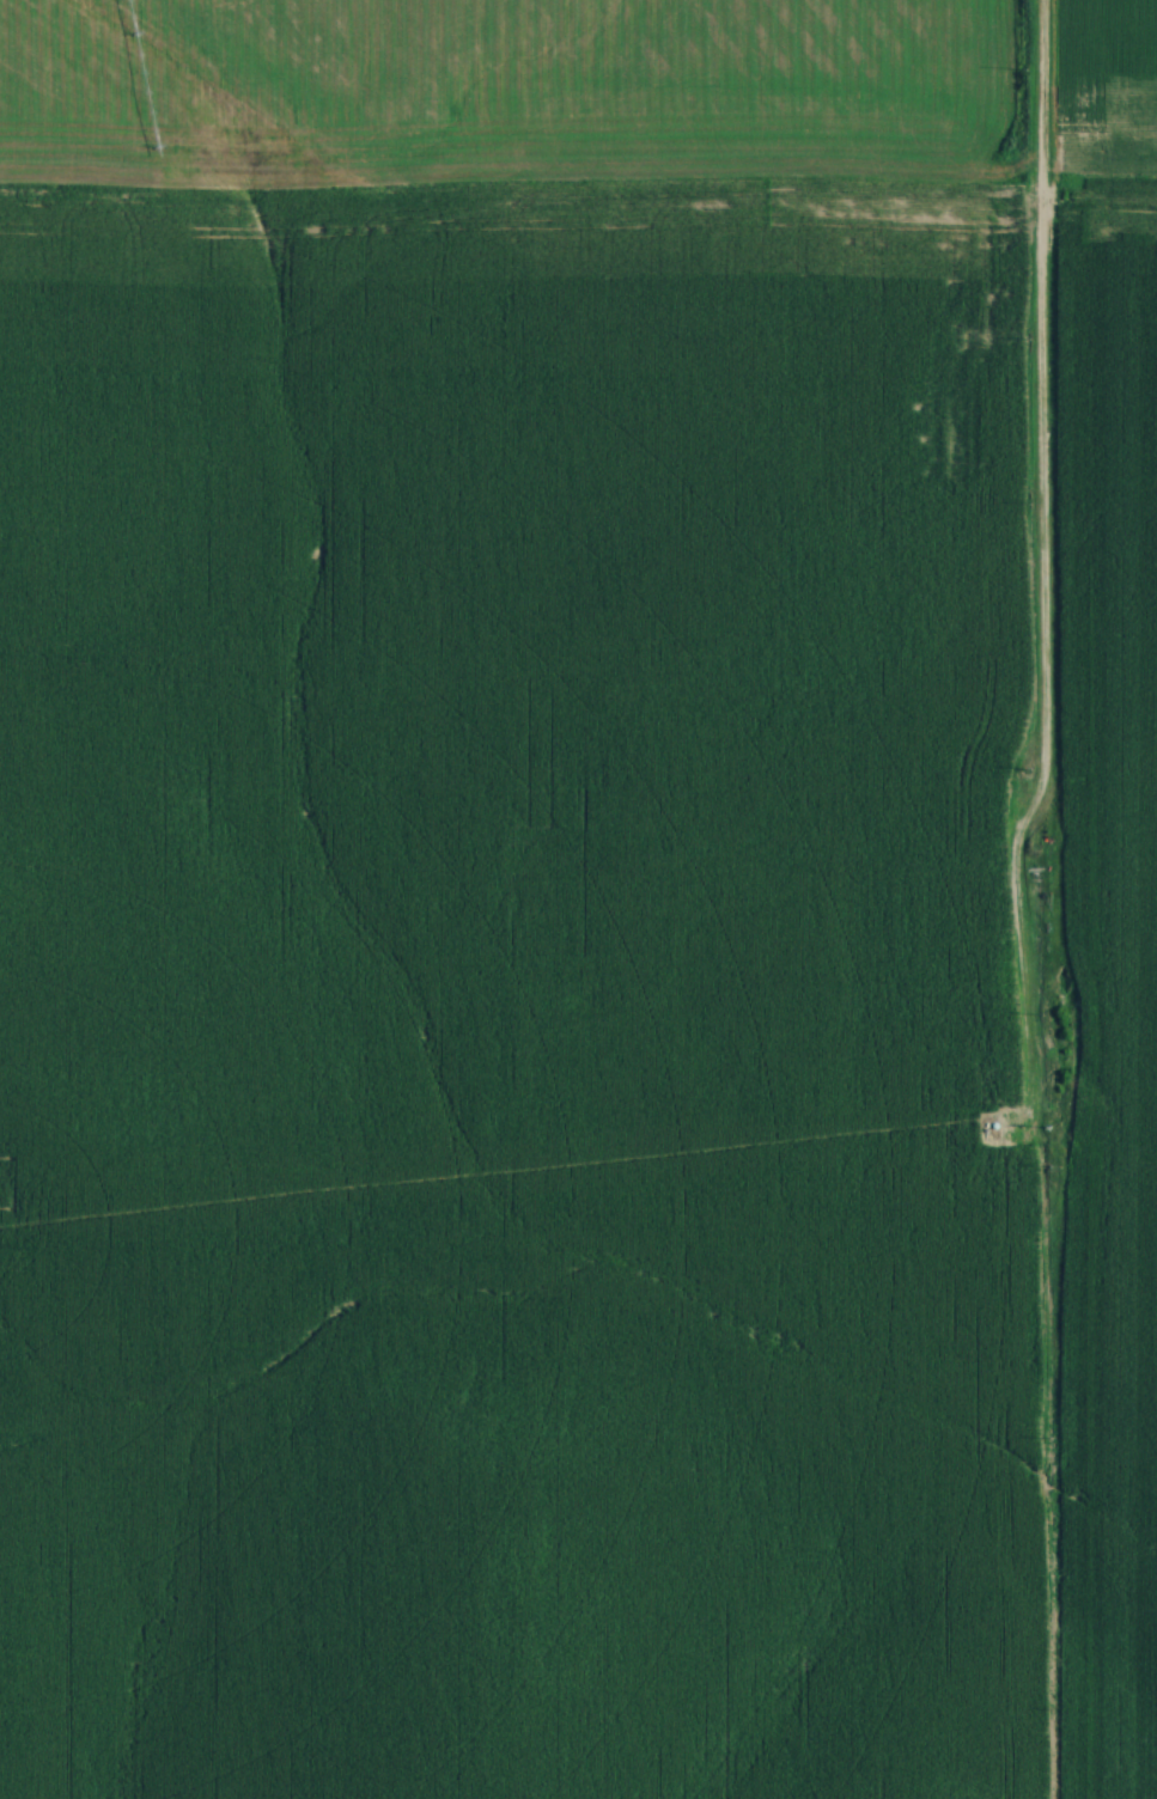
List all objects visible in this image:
road: (1037, 416)

